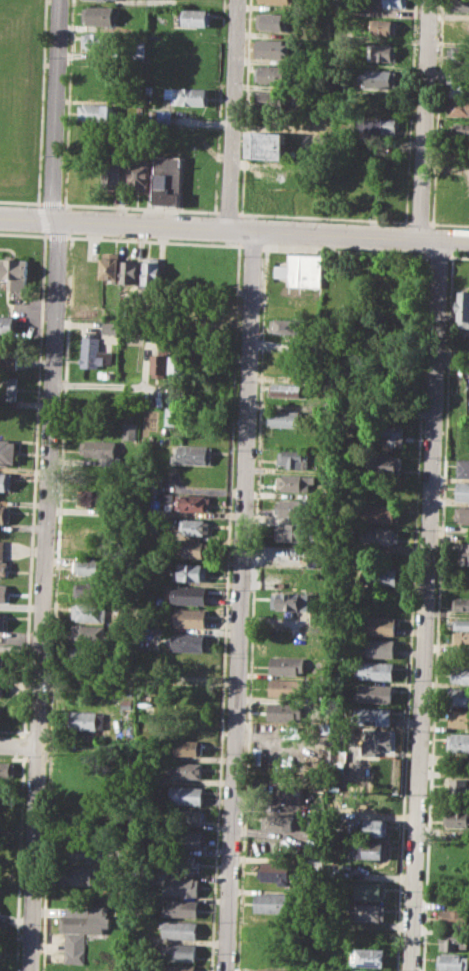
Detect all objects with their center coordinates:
building: (114, 0)
building: (277, 1)
building: (391, 3)
building: (459, 5)
building: (101, 14)
building: (196, 17)
building: (272, 21)
building: (382, 27)
building: (458, 28)
building: (98, 41)
building: (272, 48)
building: (381, 52)
building: (458, 55)
building: (94, 67)
building: (271, 74)
building: (377, 78)
building: (457, 86)
building: (93, 92)
building: (187, 96)
building: (271, 99)
building: (377, 104)
building: (457, 106)
building: (94, 112)
road: (233, 114)
building: (164, 116)
road: (424, 119)
building: (378, 127)
building: (460, 129)
building: (268, 145)
building: (138, 171)
building: (111, 173)
building: (167, 179)
building: (454, 183)
road: (21, 200)
road: (51, 202)
road: (139, 207)
road: (227, 212)
road: (323, 217)
road: (114, 222)
road: (418, 222)
road: (448, 223)
road: (242, 230)
road: (337, 234)
road: (430, 238)
road: (454, 239)
road: (438, 255)
road: (458, 256)
building: (111, 265)
building: (301, 269)
building: (130, 271)
building: (151, 271)
building: (15, 273)
building: (462, 309)
building: (211, 314)
building: (6, 326)
building: (284, 326)
building: (109, 327)
building: (151, 334)
building: (92, 350)
building: (9, 358)
building: (159, 363)
building: (175, 365)
road: (107, 386)
building: (8, 387)
building: (286, 390)
building: (174, 413)
building: (283, 419)
building: (130, 430)
building: (393, 436)
building: (102, 450)
building: (8, 453)
building: (193, 454)
building: (293, 458)
building: (384, 462)
building: (463, 467)
building: (6, 480)
building: (154, 482)
building: (293, 482)
road: (48, 484)
building: (462, 490)
building: (97, 497)
building: (193, 502)
building: (294, 507)
building: (381, 513)
building: (462, 513)
building: (5, 514)
road: (255, 526)
building: (194, 527)
building: (292, 532)
building: (380, 535)
building: (94, 543)
building: (192, 549)
building: (463, 553)
building: (3, 560)
building: (93, 565)
building: (189, 572)
building: (381, 576)
building: (290, 577)
building: (93, 588)
building: (3, 592)
building: (190, 595)
road: (243, 601)
building: (289, 601)
building: (382, 603)
building: (460, 604)
road: (430, 605)
building: (94, 612)
building: (190, 617)
building: (3, 621)
building: (460, 624)
building: (380, 626)
building: (93, 632)
building: (461, 638)
building: (188, 641)
building: (378, 648)
building: (92, 655)
building: (0, 662)
building: (286, 666)
building: (375, 670)
building: (461, 675)
building: (285, 687)
building: (1, 688)
building: (375, 693)
building: (460, 697)
building: (284, 711)
building: (374, 715)
building: (459, 718)
building: (87, 723)
building: (282, 729)
building: (378, 741)
building: (458, 742)
road: (19, 745)
building: (187, 747)
building: (187, 769)
building: (7, 770)
building: (459, 787)
building: (283, 794)
building: (186, 795)
building: (375, 804)
building: (187, 816)
building: (456, 817)
building: (275, 821)
building: (375, 827)
building: (188, 839)
building: (372, 849)
building: (185, 864)
building: (275, 871)
building: (83, 876)
building: (182, 886)
building: (372, 891)
building: (272, 902)
building: (180, 908)
building: (369, 912)
building: (455, 918)
building: (86, 919)
building: (179, 929)
building: (138, 939)
building: (455, 941)
building: (75, 949)
building: (1, 951)
building: (179, 951)
building: (273, 954)
building: (368, 956)
building: (454, 961)
building: (176, 968)
building: (273, 969)
building: (358, 970)

